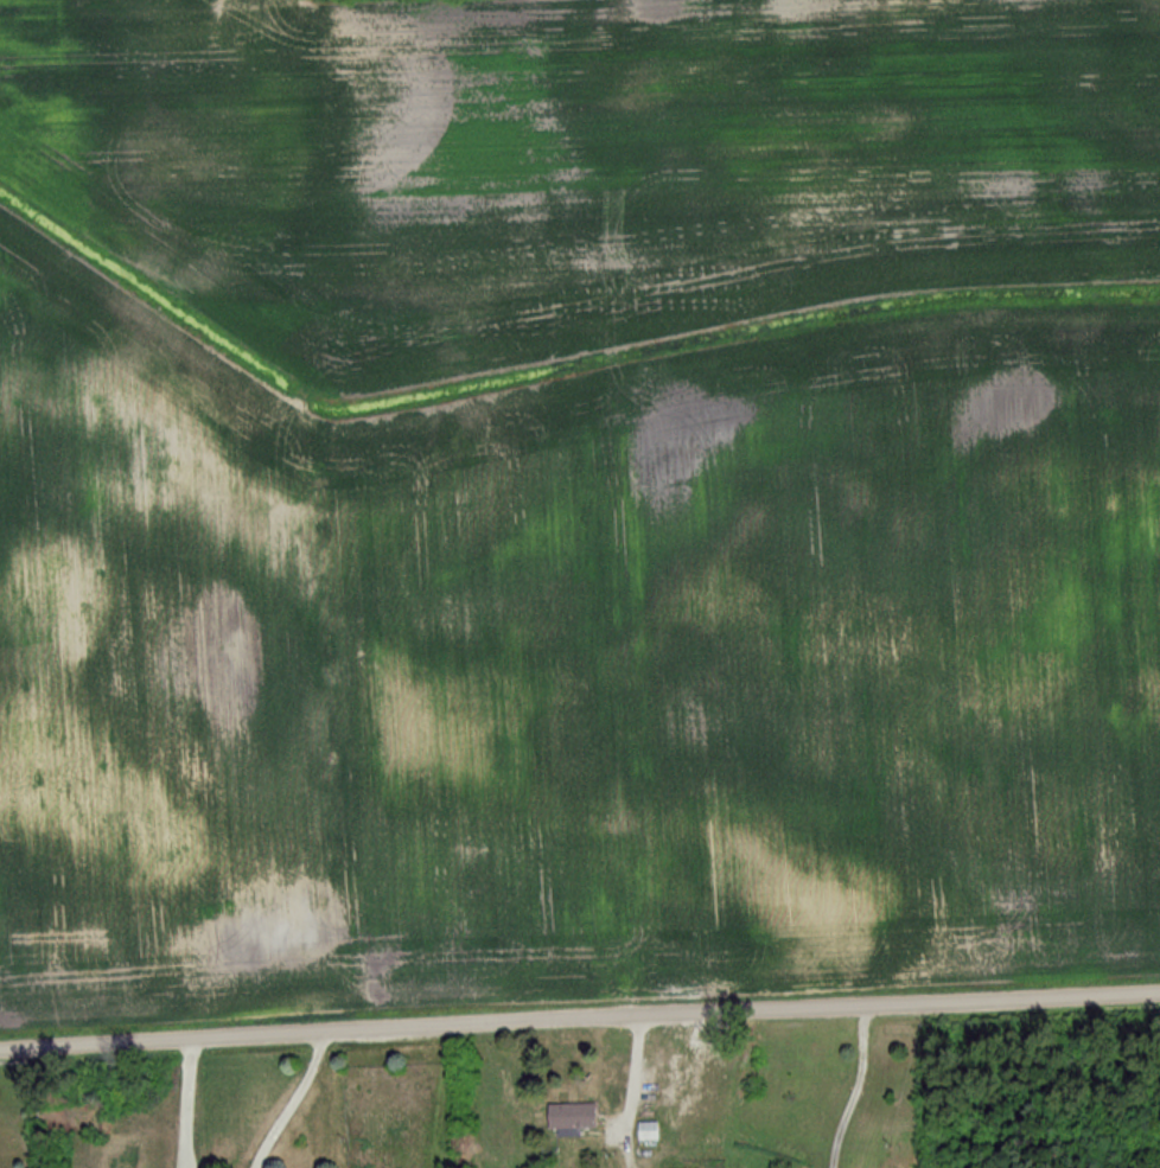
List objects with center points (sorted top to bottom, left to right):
road: (579, 1019)
road: (856, 1087)
road: (293, 1099)
road: (189, 1102)
building: (568, 1116)
building: (645, 1131)

